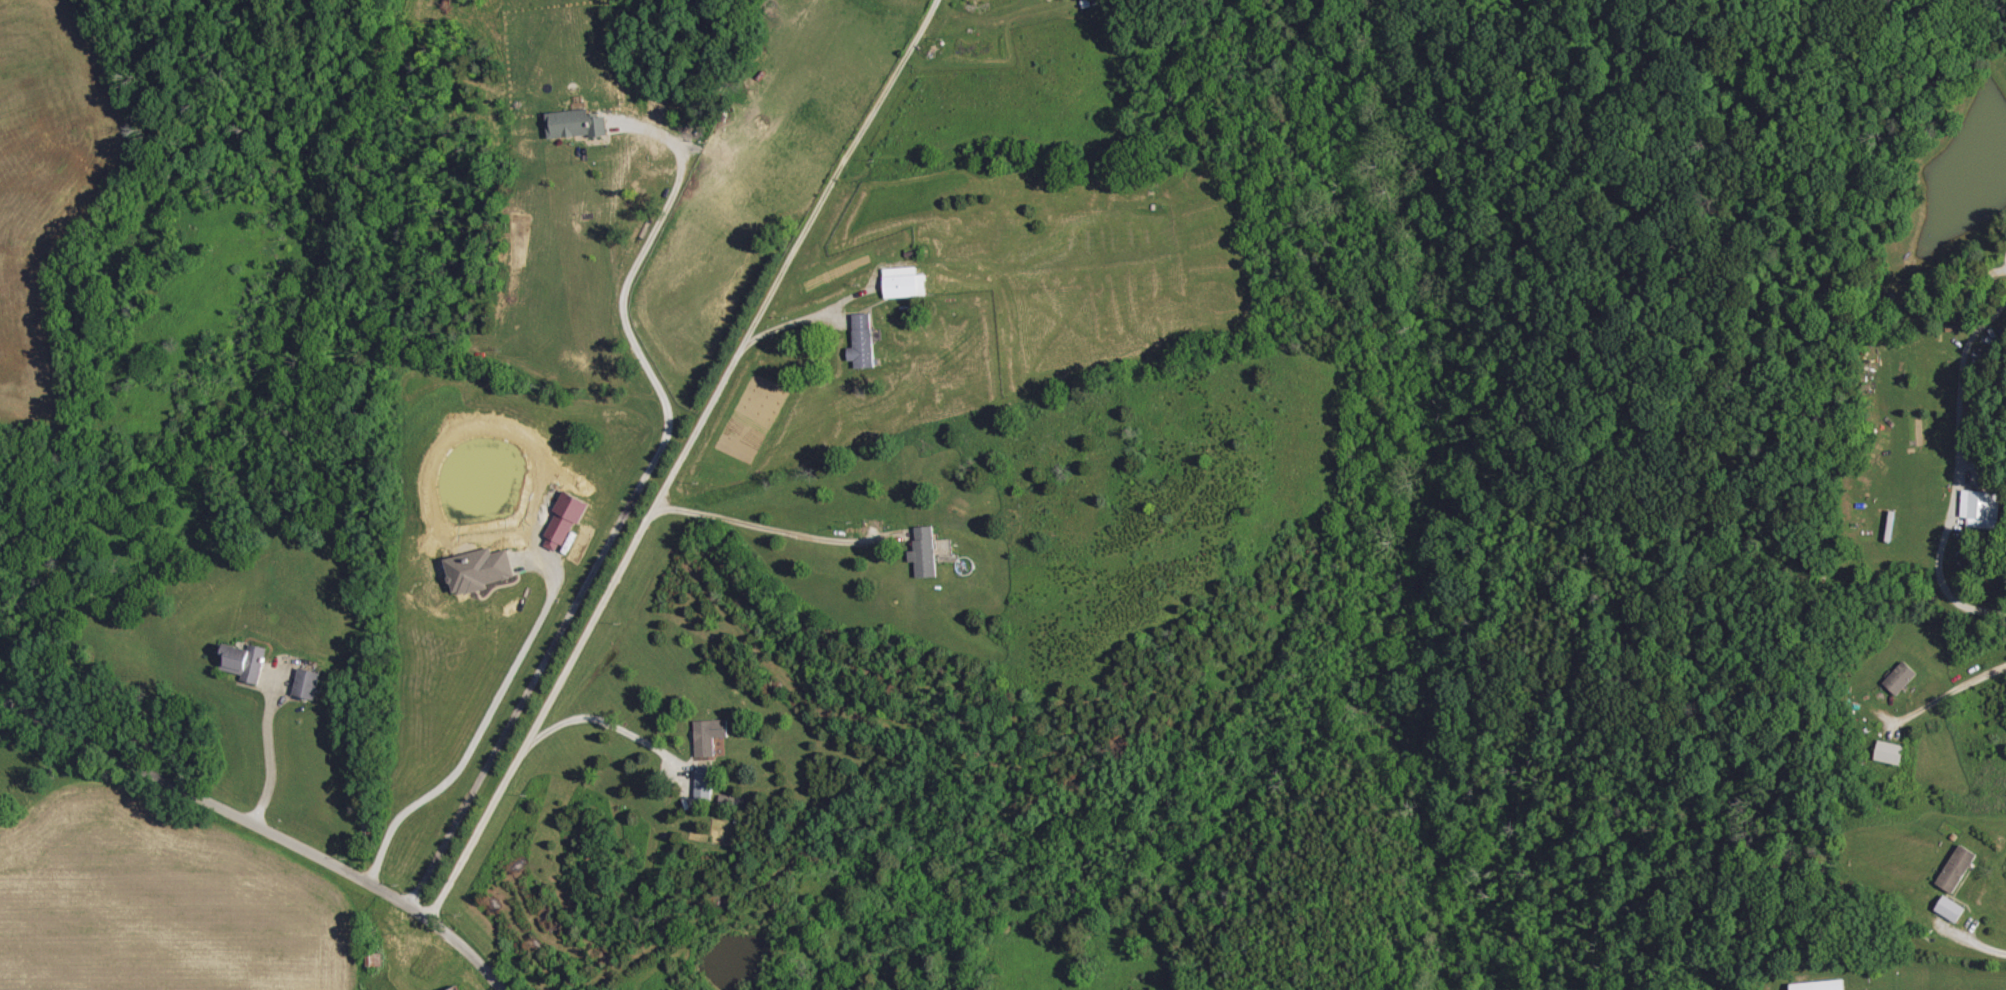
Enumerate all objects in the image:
building: (575, 125)
building: (903, 282)
road: (807, 318)
building: (862, 341)
road: (676, 461)
road: (1961, 467)
building: (1982, 508)
road: (620, 518)
building: (563, 522)
road: (762, 528)
building: (924, 551)
building: (477, 570)
building: (243, 661)
building: (1901, 677)
building: (307, 684)
road: (1949, 690)
road: (604, 723)
building: (710, 730)
road: (477, 733)
building: (1889, 752)
road: (266, 753)
building: (703, 782)
road: (258, 831)
building: (1957, 868)
building: (1950, 909)
road: (1973, 943)
building: (1820, 985)
building: (457, 988)

